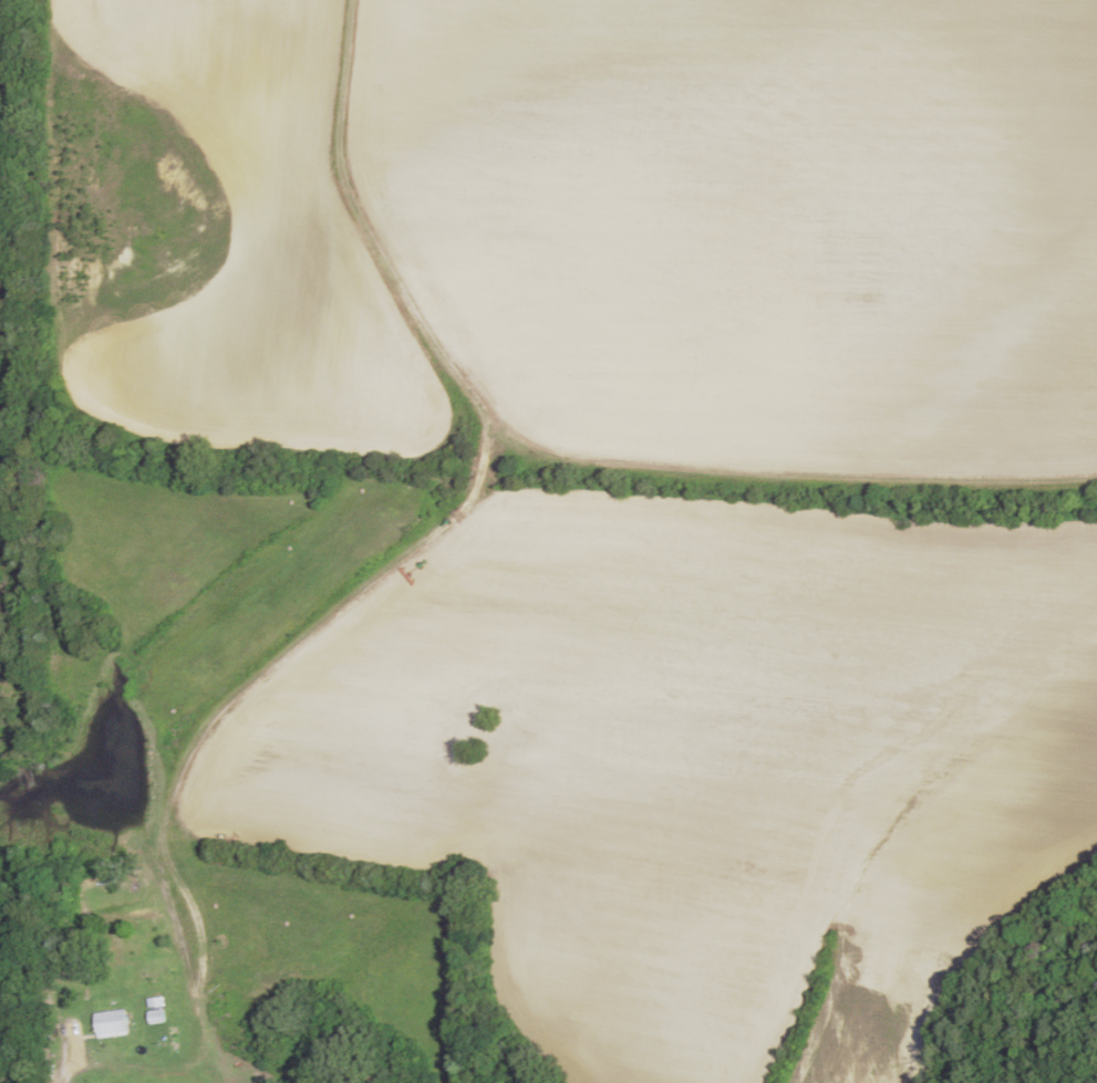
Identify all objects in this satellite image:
building: (157, 1020)
building: (112, 1023)

